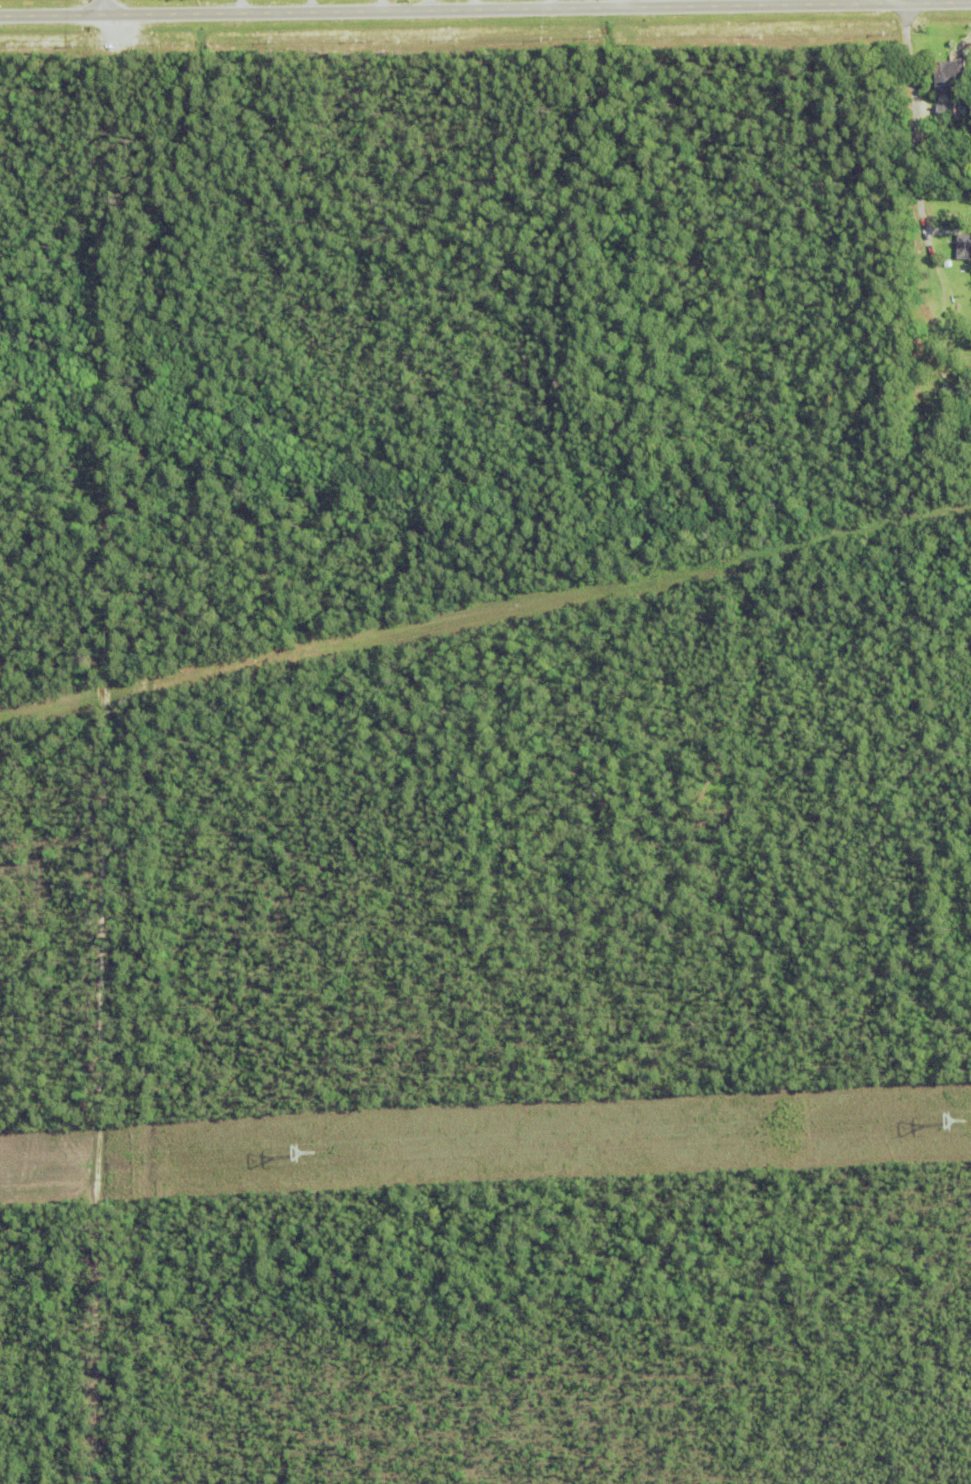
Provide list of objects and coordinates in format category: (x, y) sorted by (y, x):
road: (758, 2)
road: (558, 3)
road: (379, 5)
road: (102, 6)
road: (485, 8)
building: (950, 81)
road: (915, 164)
building: (958, 207)
building: (963, 249)
building: (910, 256)
building: (953, 338)
building: (947, 399)
building: (927, 447)
power tower: (965, 1124)
power tower: (317, 1155)

